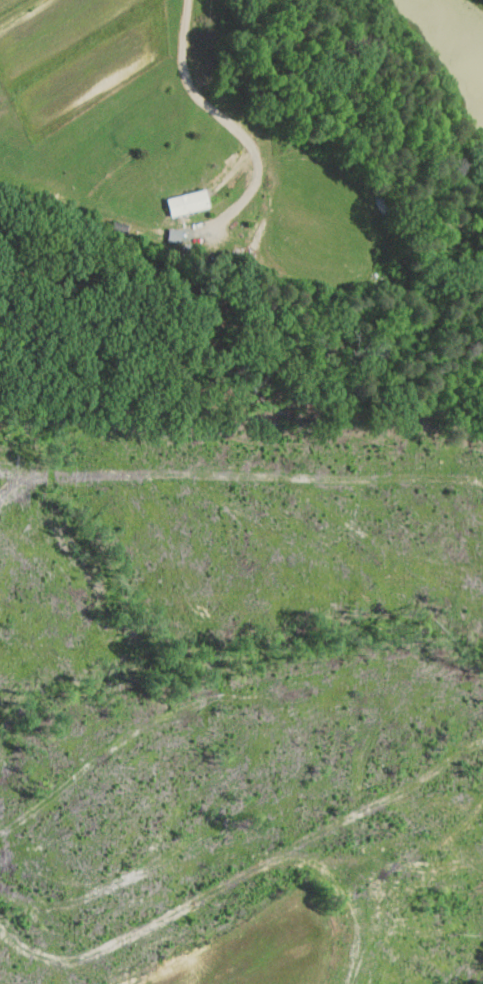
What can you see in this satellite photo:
road: (226, 119)
building: (174, 196)
building: (161, 229)

